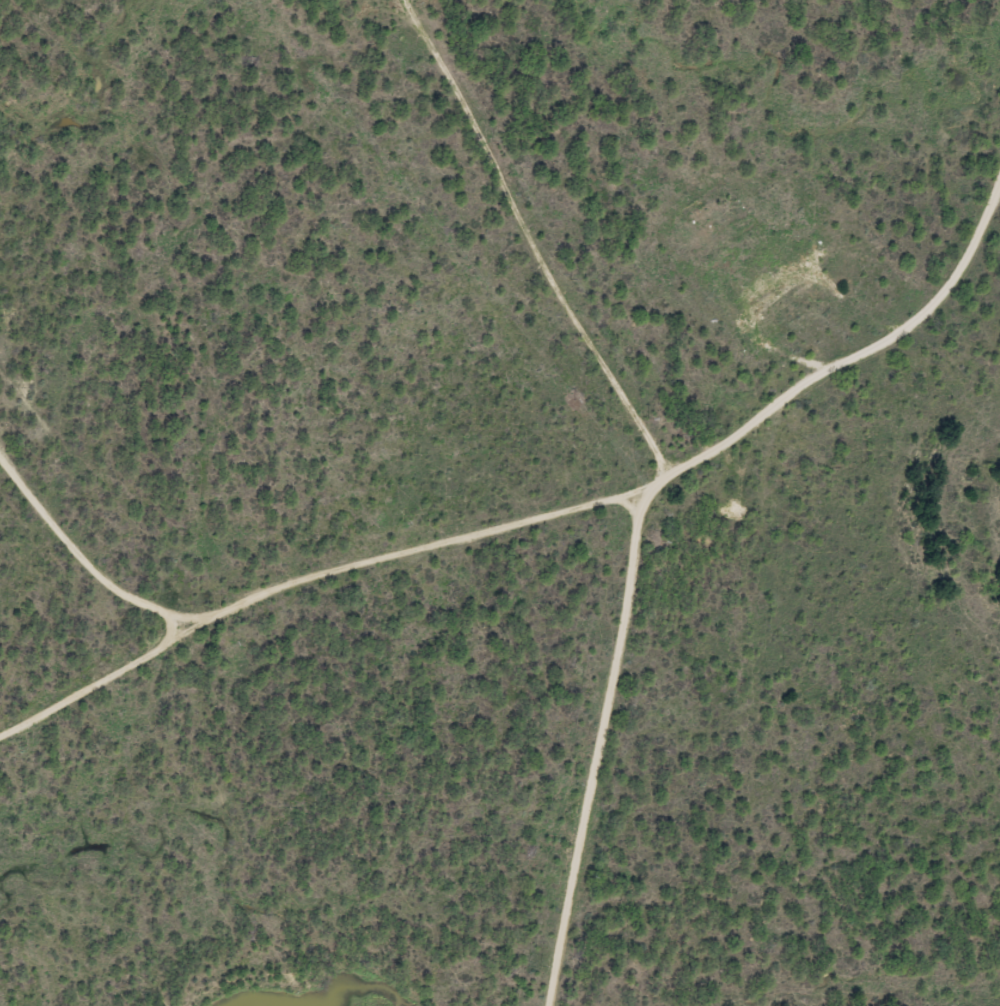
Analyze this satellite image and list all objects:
road: (669, 555)
road: (324, 592)

